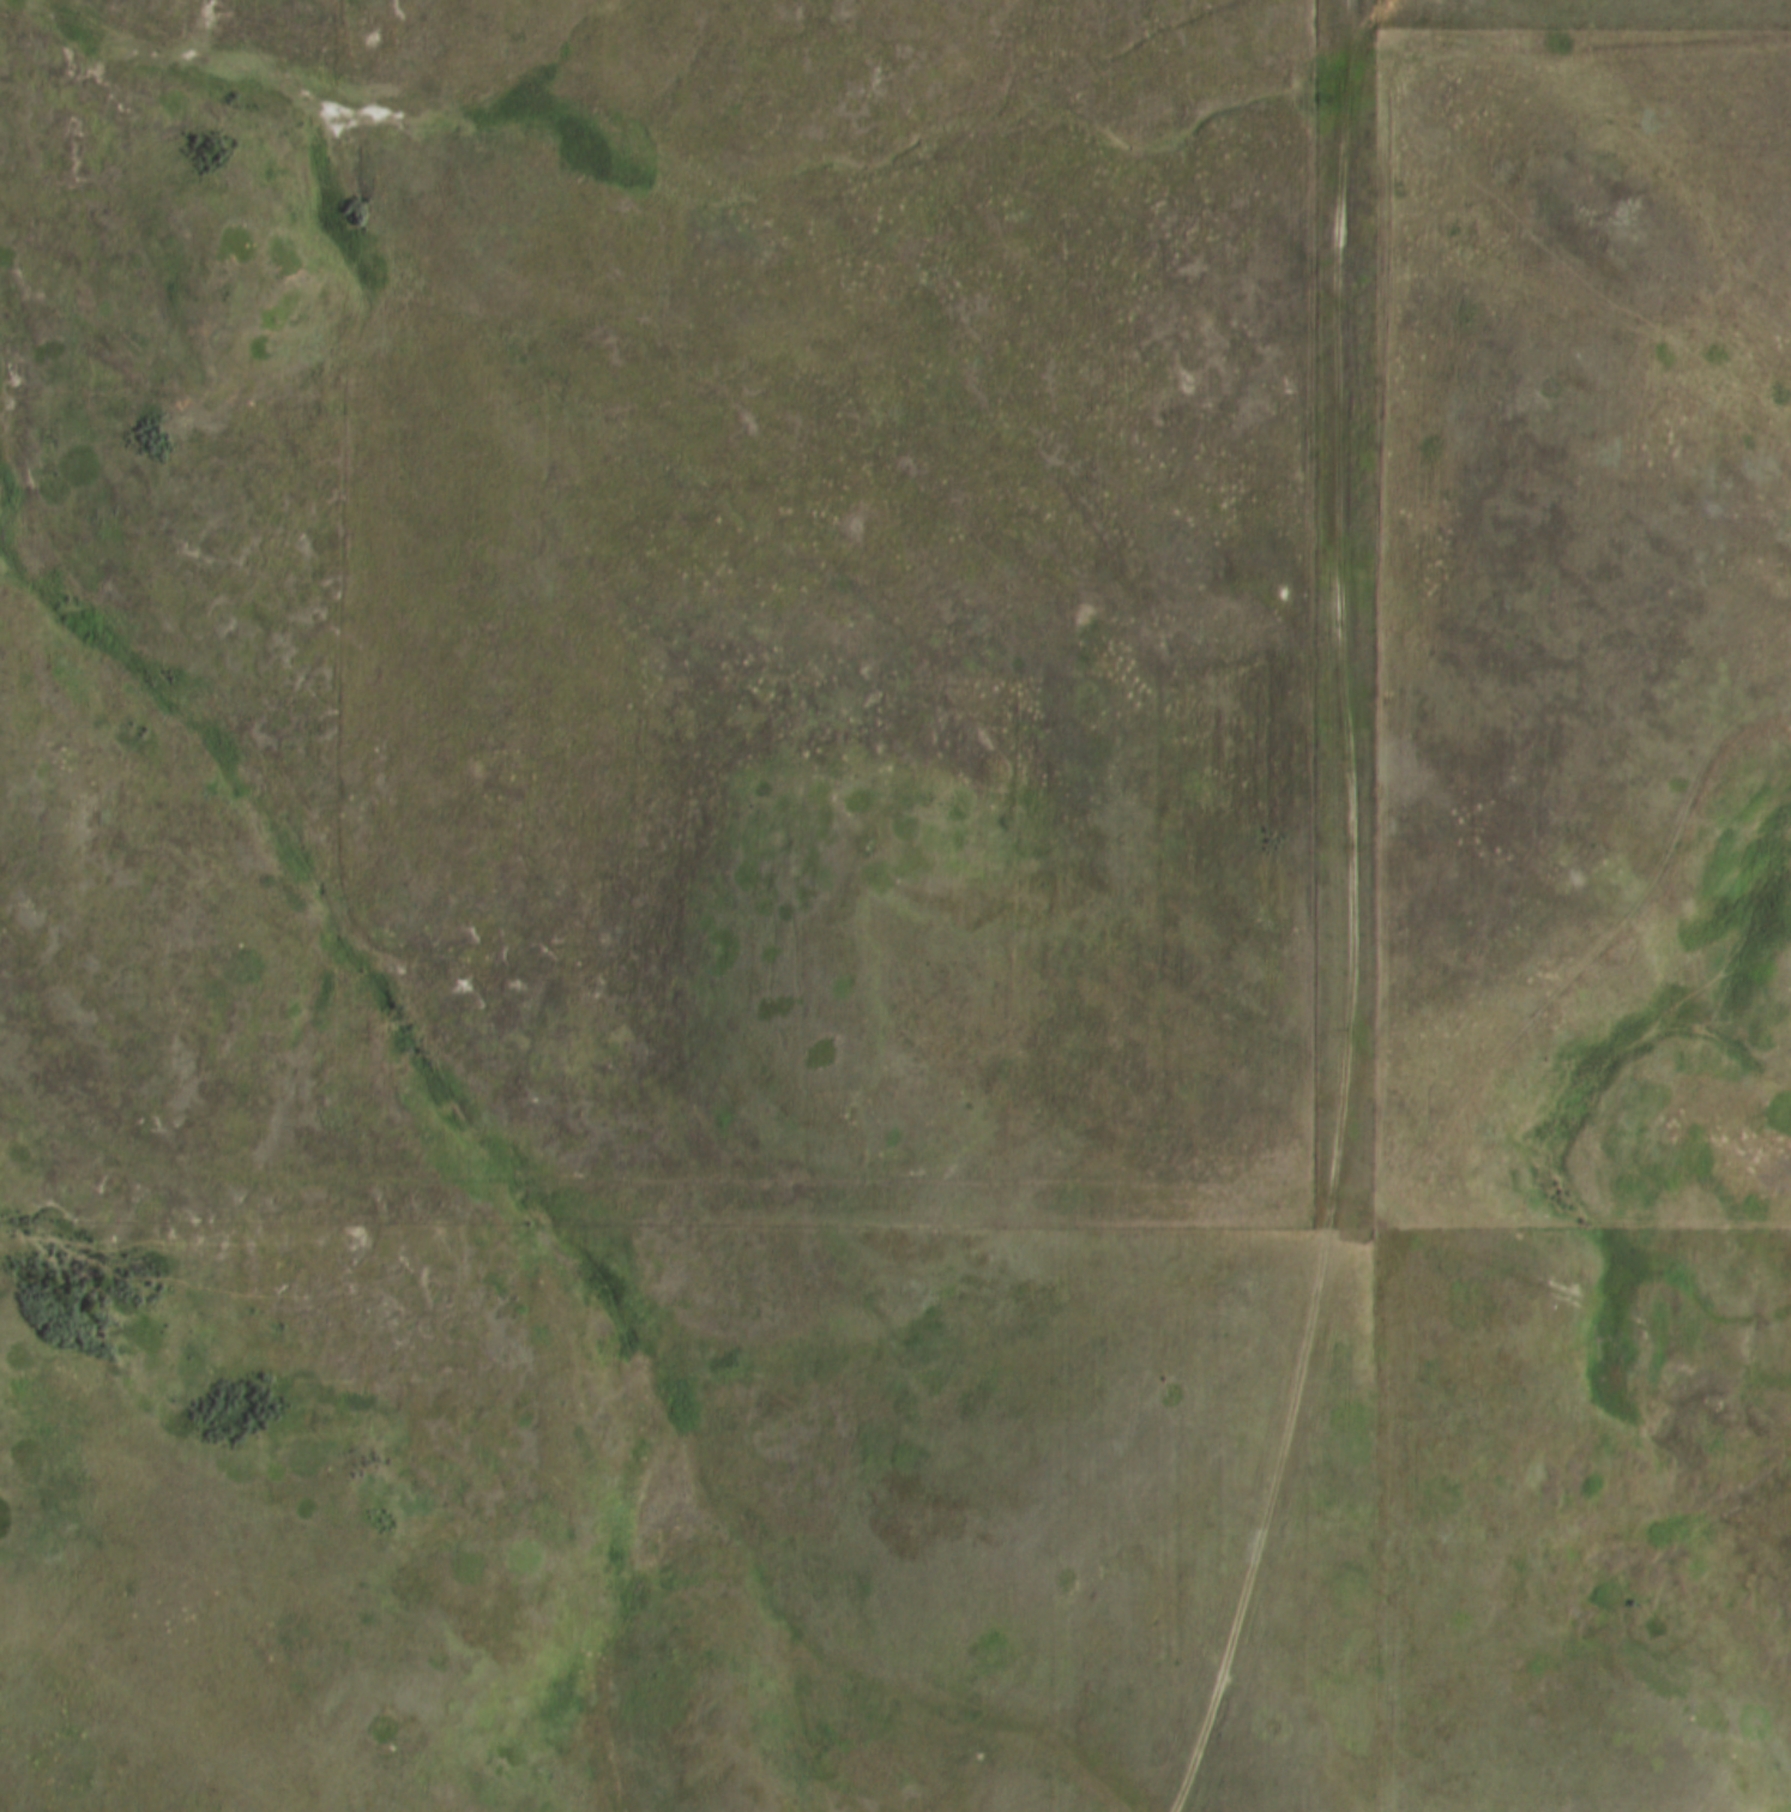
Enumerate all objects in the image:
road: (1353, 916)
road: (1407, 1180)

